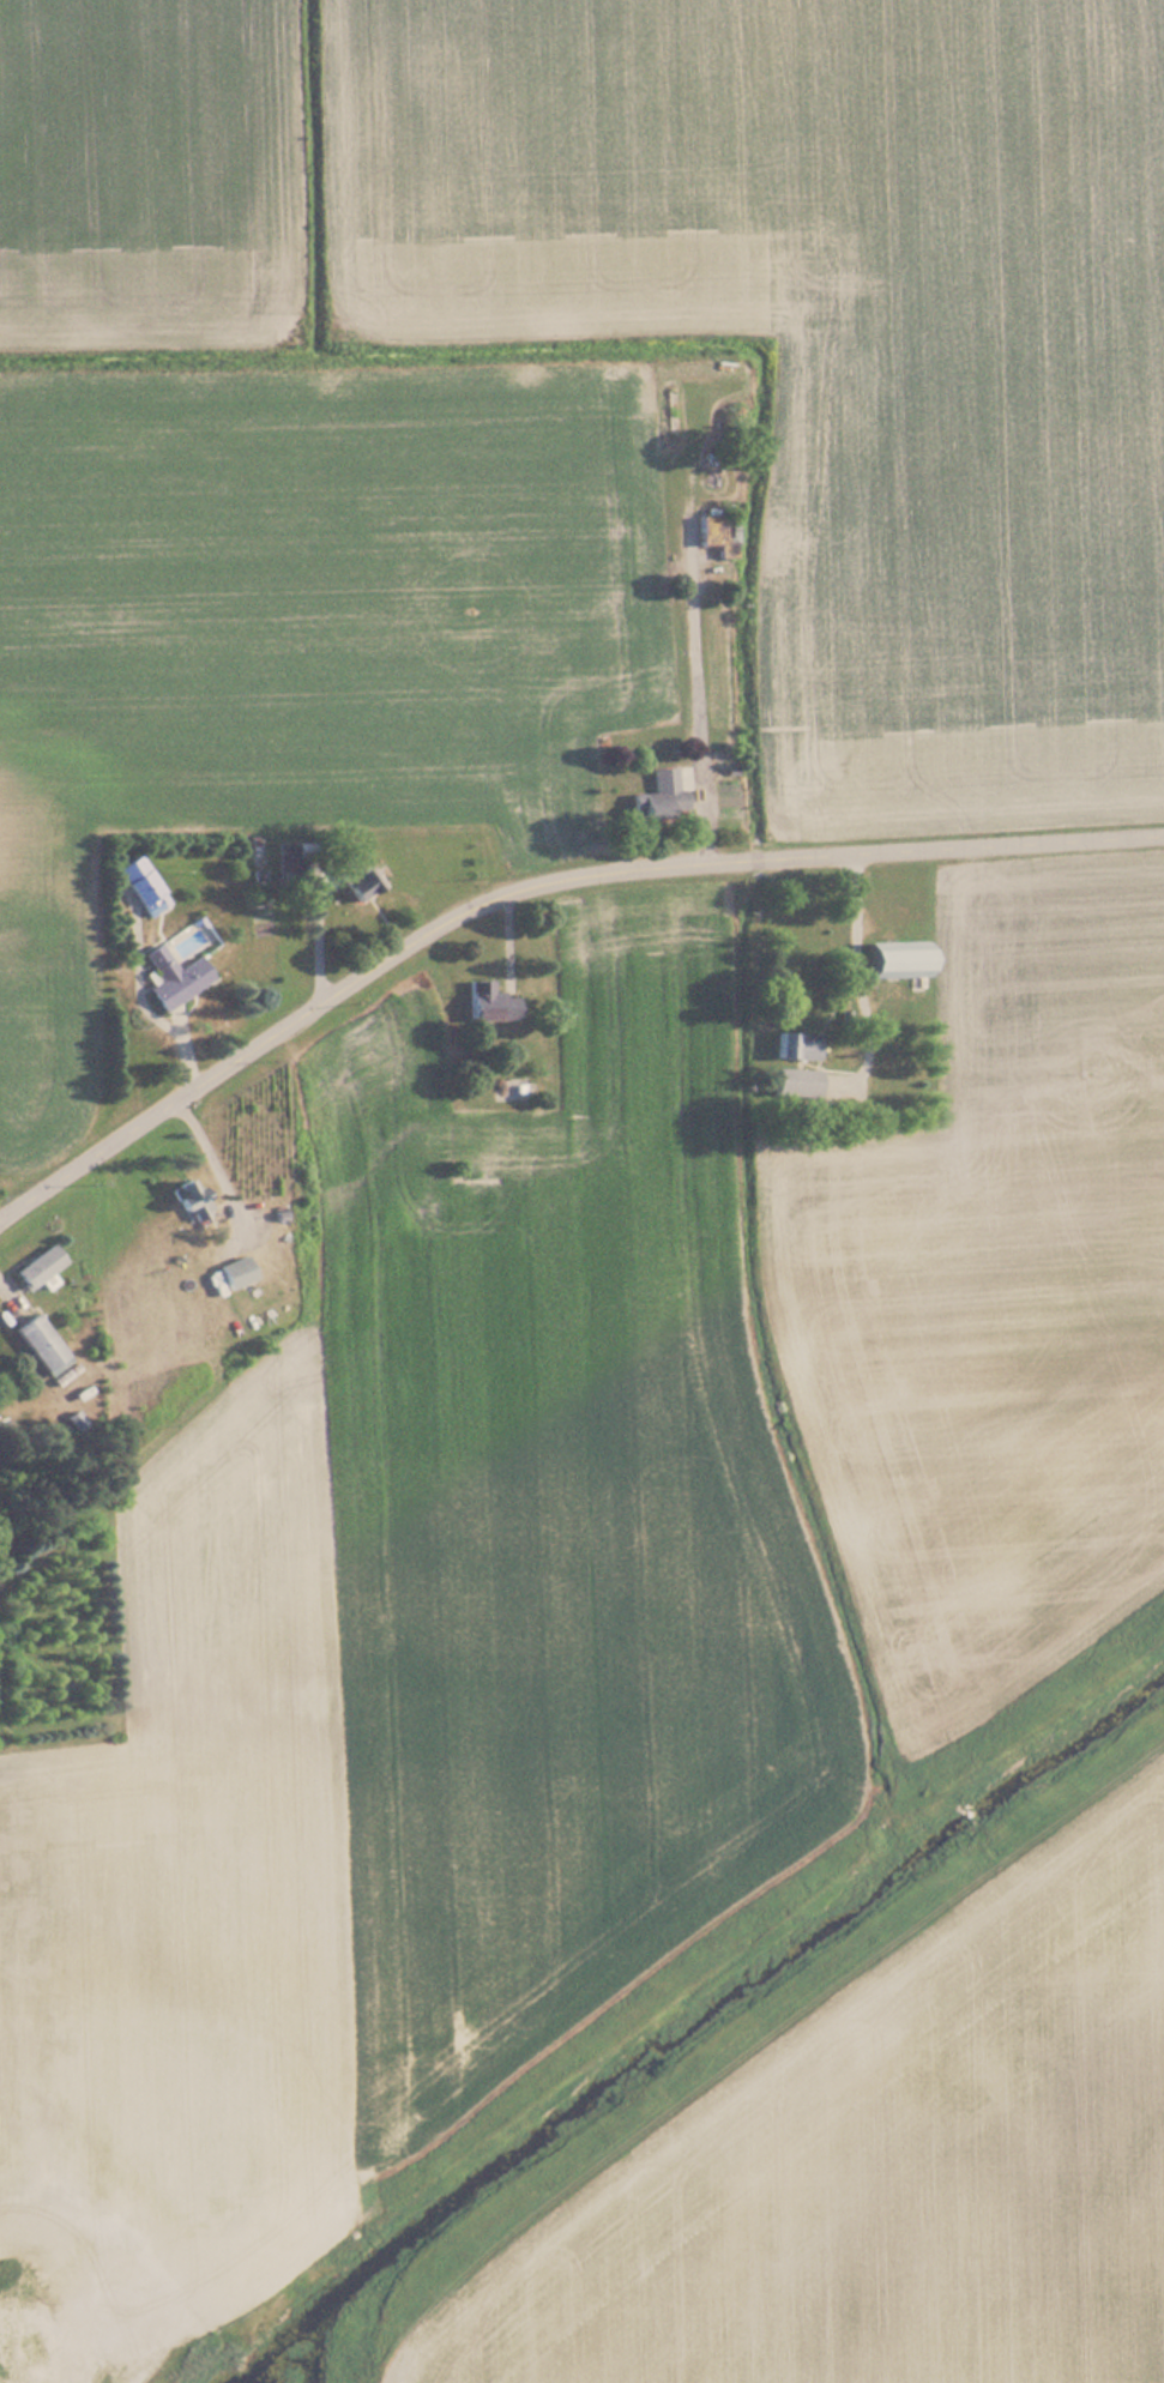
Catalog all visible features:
building: (714, 532)
road: (694, 689)
building: (661, 798)
building: (288, 857)
building: (355, 876)
road: (533, 880)
building: (141, 883)
building: (891, 959)
building: (173, 976)
building: (489, 1002)
building: (795, 1045)
building: (794, 1082)
building: (503, 1088)
building: (191, 1197)
building: (38, 1266)
building: (234, 1272)
building: (42, 1345)

